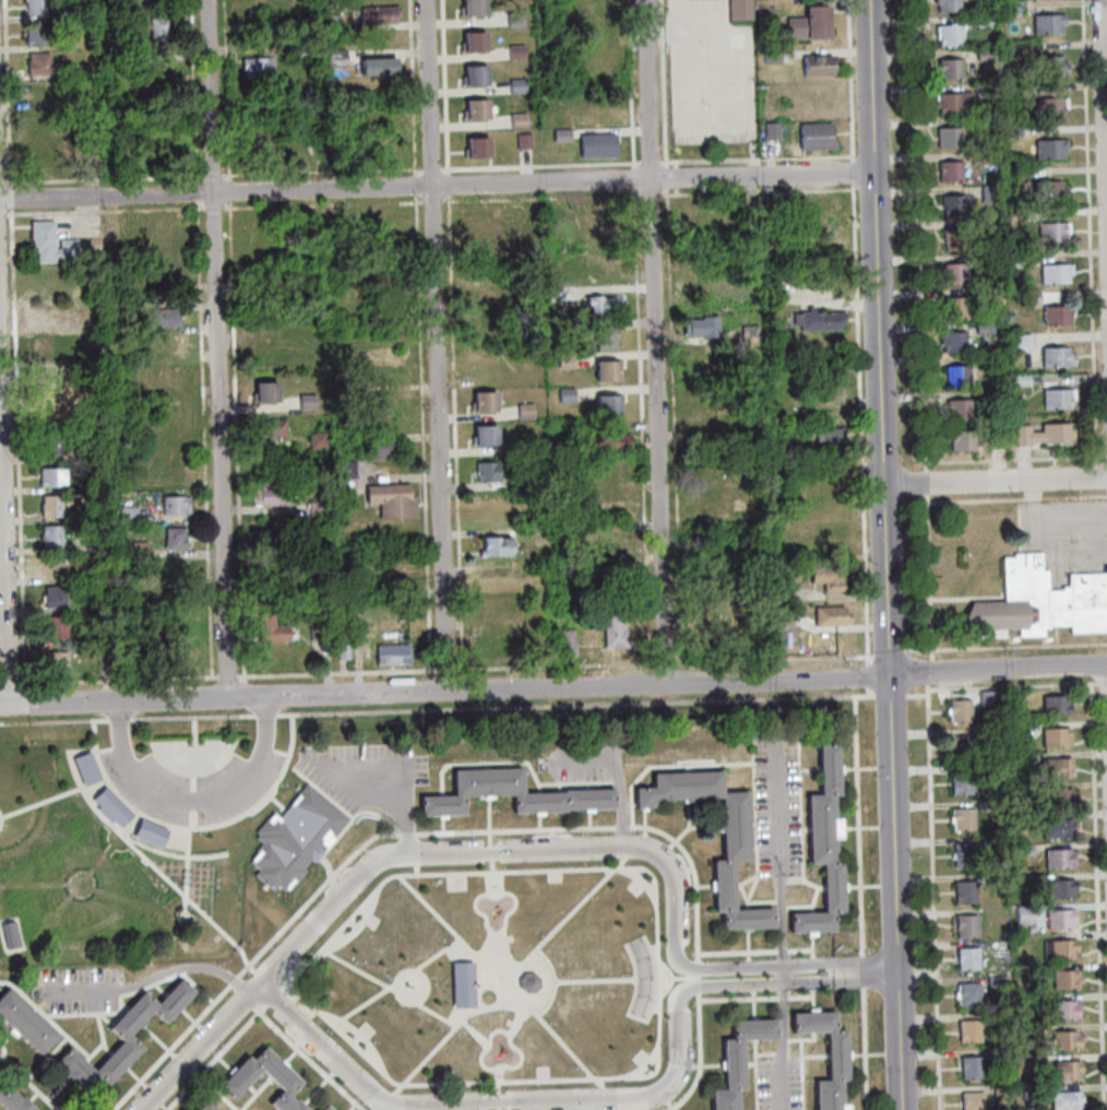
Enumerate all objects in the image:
building: (254, 5)
building: (947, 5)
building: (1013, 5)
building: (35, 8)
building: (472, 8)
building: (738, 10)
building: (379, 13)
building: (514, 19)
building: (983, 21)
building: (329, 23)
building: (808, 23)
building: (1047, 23)
building: (158, 32)
building: (39, 35)
building: (949, 35)
building: (473, 43)
building: (298, 47)
building: (516, 51)
building: (984, 56)
building: (771, 57)
building: (335, 58)
building: (39, 63)
building: (817, 66)
building: (1049, 66)
building: (257, 67)
building: (378, 67)
building: (949, 69)
building: (474, 76)
building: (516, 86)
road: (226, 87)
road: (410, 87)
road: (870, 87)
building: (1046, 87)
road: (193, 88)
building: (983, 91)
road: (7, 92)
building: (40, 93)
road: (1104, 96)
building: (952, 102)
building: (1044, 108)
building: (475, 110)
building: (517, 121)
building: (44, 125)
building: (986, 125)
building: (1011, 130)
building: (771, 131)
building: (561, 137)
building: (816, 137)
building: (948, 138)
building: (523, 141)
building: (597, 146)
building: (476, 147)
building: (1049, 149)
building: (987, 157)
building: (43, 158)
road: (538, 166)
road: (632, 166)
road: (447, 172)
building: (950, 172)
road: (213, 173)
building: (1013, 175)
road: (103, 176)
road: (2, 179)
road: (633, 179)
road: (447, 184)
road: (414, 185)
road: (436, 187)
road: (229, 189)
road: (197, 190)
building: (1049, 193)
building: (989, 194)
road: (10, 196)
road: (633, 196)
road: (538, 199)
road: (198, 204)
road: (213, 205)
building: (953, 205)
road: (104, 209)
road: (3, 213)
building: (1015, 216)
building: (988, 226)
building: (1052, 232)
road: (448, 234)
road: (917, 235)
building: (487, 237)
road: (1088, 238)
building: (955, 239)
building: (50, 244)
road: (634, 245)
building: (1017, 258)
building: (991, 261)
building: (953, 273)
building: (1055, 273)
road: (203, 286)
building: (555, 294)
building: (771, 296)
building: (991, 296)
building: (1028, 298)
building: (604, 305)
building: (954, 307)
building: (48, 316)
building: (1056, 316)
building: (168, 317)
building: (818, 320)
building: (88, 321)
building: (579, 323)
building: (701, 327)
road: (857, 329)
building: (983, 329)
road: (450, 331)
building: (751, 332)
building: (311, 335)
building: (605, 338)
building: (953, 341)
road: (653, 342)
building: (1020, 342)
building: (168, 344)
road: (435, 345)
building: (46, 346)
road: (215, 349)
building: (266, 352)
road: (639, 357)
building: (1056, 357)
building: (81, 361)
building: (564, 362)
building: (606, 370)
building: (168, 376)
building: (956, 376)
building: (49, 380)
building: (1020, 380)
building: (715, 383)
building: (826, 389)
building: (90, 393)
building: (265, 393)
building: (566, 395)
building: (1056, 399)
building: (306, 402)
building: (483, 402)
building: (606, 405)
building: (957, 410)
building: (525, 411)
building: (50, 414)
building: (171, 425)
building: (271, 428)
road: (420, 432)
building: (1043, 434)
building: (484, 437)
building: (829, 437)
road: (237, 439)
building: (317, 439)
building: (607, 440)
building: (961, 440)
building: (51, 445)
building: (525, 446)
road: (16, 447)
building: (383, 447)
building: (800, 450)
street lamp: (902, 453)
building: (83, 454)
road: (1015, 459)
building: (171, 463)
building: (345, 470)
building: (486, 471)
building: (52, 476)
road: (204, 481)
building: (523, 481)
road: (993, 481)
road: (454, 482)
building: (699, 482)
road: (925, 482)
building: (322, 484)
building: (270, 492)
road: (1004, 499)
building: (391, 500)
road: (892, 503)
building: (52, 504)
building: (177, 504)
building: (611, 507)
building: (317, 508)
building: (130, 512)
building: (314, 524)
building: (835, 529)
building: (560, 531)
building: (51, 535)
building: (176, 538)
building: (607, 539)
building: (725, 541)
road: (643, 546)
building: (97, 547)
building: (495, 547)
building: (139, 551)
road: (3, 565)
building: (53, 567)
building: (97, 576)
road: (927, 576)
building: (826, 578)
road: (457, 589)
building: (55, 595)
building: (1040, 601)
building: (727, 606)
building: (830, 616)
building: (783, 617)
building: (57, 626)
building: (270, 630)
building: (318, 630)
building: (614, 630)
road: (460, 636)
building: (499, 638)
building: (566, 640)
road: (886, 642)
road: (1004, 646)
building: (342, 651)
road: (888, 651)
building: (392, 654)
road: (774, 658)
road: (666, 662)
building: (109, 663)
building: (57, 664)
road: (448, 670)
road: (928, 671)
road: (227, 674)
road: (866, 674)
road: (118, 677)
road: (1102, 681)
road: (10, 682)
road: (1011, 684)
road: (553, 688)
road: (868, 690)
road: (24, 695)
road: (890, 696)
road: (916, 697)
building: (987, 698)
building: (1016, 698)
road: (576, 704)
building: (1057, 704)
building: (960, 710)
road: (266, 713)
road: (192, 716)
road: (120, 719)
road: (55, 720)
road: (266, 723)
road: (120, 724)
building: (1020, 729)
building: (1057, 736)
building: (963, 744)
road: (194, 752)
building: (1021, 761)
building: (1057, 766)
building: (86, 767)
road: (330, 767)
parking lot: (360, 771)
road: (401, 771)
building: (990, 771)
road: (617, 778)
building: (963, 784)
parking lot: (152, 786)
building: (514, 790)
building: (1059, 798)
road: (193, 800)
road: (43, 801)
road: (193, 803)
parking lot: (777, 804)
building: (111, 805)
building: (990, 806)
road: (3, 818)
building: (964, 818)
building: (1024, 819)
road: (192, 820)
road: (406, 820)
road: (858, 825)
building: (1058, 828)
road: (195, 829)
road: (609, 830)
building: (151, 832)
road: (407, 834)
building: (735, 836)
building: (296, 838)
park: (118, 842)
building: (822, 847)
building: (1025, 848)
road: (580, 849)
road: (172, 852)
road: (778, 855)
building: (966, 855)
building: (1061, 858)
road: (187, 863)
road: (334, 876)
road: (171, 883)
road: (341, 883)
building: (1062, 887)
building: (965, 891)
road: (313, 895)
road: (932, 896)
road: (1097, 896)
road: (584, 900)
road: (428, 908)
building: (1026, 912)
building: (1061, 918)
building: (967, 925)
building: (1007, 931)
road: (332, 933)
building: (1061, 947)
road: (805, 948)
road: (782, 949)
road: (736, 952)
building: (968, 957)
road: (658, 960)
road: (430, 961)
road: (813, 964)
road: (186, 967)
road: (697, 968)
road: (356, 969)
road: (409, 970)
road: (864, 971)
road: (813, 972)
road: (880, 972)
park: (493, 976)
road: (698, 976)
road: (686, 977)
building: (529, 979)
road: (672, 979)
building: (1067, 979)
road: (233, 980)
road: (813, 982)
building: (995, 983)
road: (556, 984)
road: (699, 985)
building: (463, 988)
road: (551, 988)
parking lot: (79, 991)
road: (79, 993)
road: (128, 993)
building: (967, 993)
road: (804, 996)
road: (272, 997)
road: (783, 997)
road: (739, 999)
road: (250, 1001)
road: (366, 1004)
building: (1064, 1009)
road: (431, 1014)
road: (783, 1018)
building: (25, 1022)
road: (198, 1024)
road: (347, 1026)
road: (205, 1030)
building: (969, 1030)
building: (1004, 1030)
road: (63, 1035)
building: (124, 1036)
road: (785, 1039)
building: (1066, 1039)
road: (171, 1047)
road: (198, 1047)
road: (865, 1049)
road: (2, 1051)
road: (777, 1051)
road: (171, 1052)
building: (1001, 1055)
road: (213, 1056)
road: (309, 1058)
road: (574, 1058)
building: (828, 1058)
road: (700, 1059)
road: (426, 1060)
road: (183, 1061)
building: (738, 1061)
road: (801, 1066)
building: (971, 1066)
building: (1025, 1068)
building: (1066, 1070)
road: (754, 1071)
building: (282, 1076)
road: (27, 1084)
road: (403, 1084)
parking lot: (778, 1086)
road: (781, 1086)
road: (215, 1088)
building: (1003, 1088)
building: (1031, 1095)
road: (391, 1098)
building: (13, 1100)
road: (157, 1100)
building: (972, 1100)
building: (1067, 1100)
road: (581, 1101)
building: (204, 1106)
road: (164, 1107)
building: (326, 1107)
road: (383, 1107)

